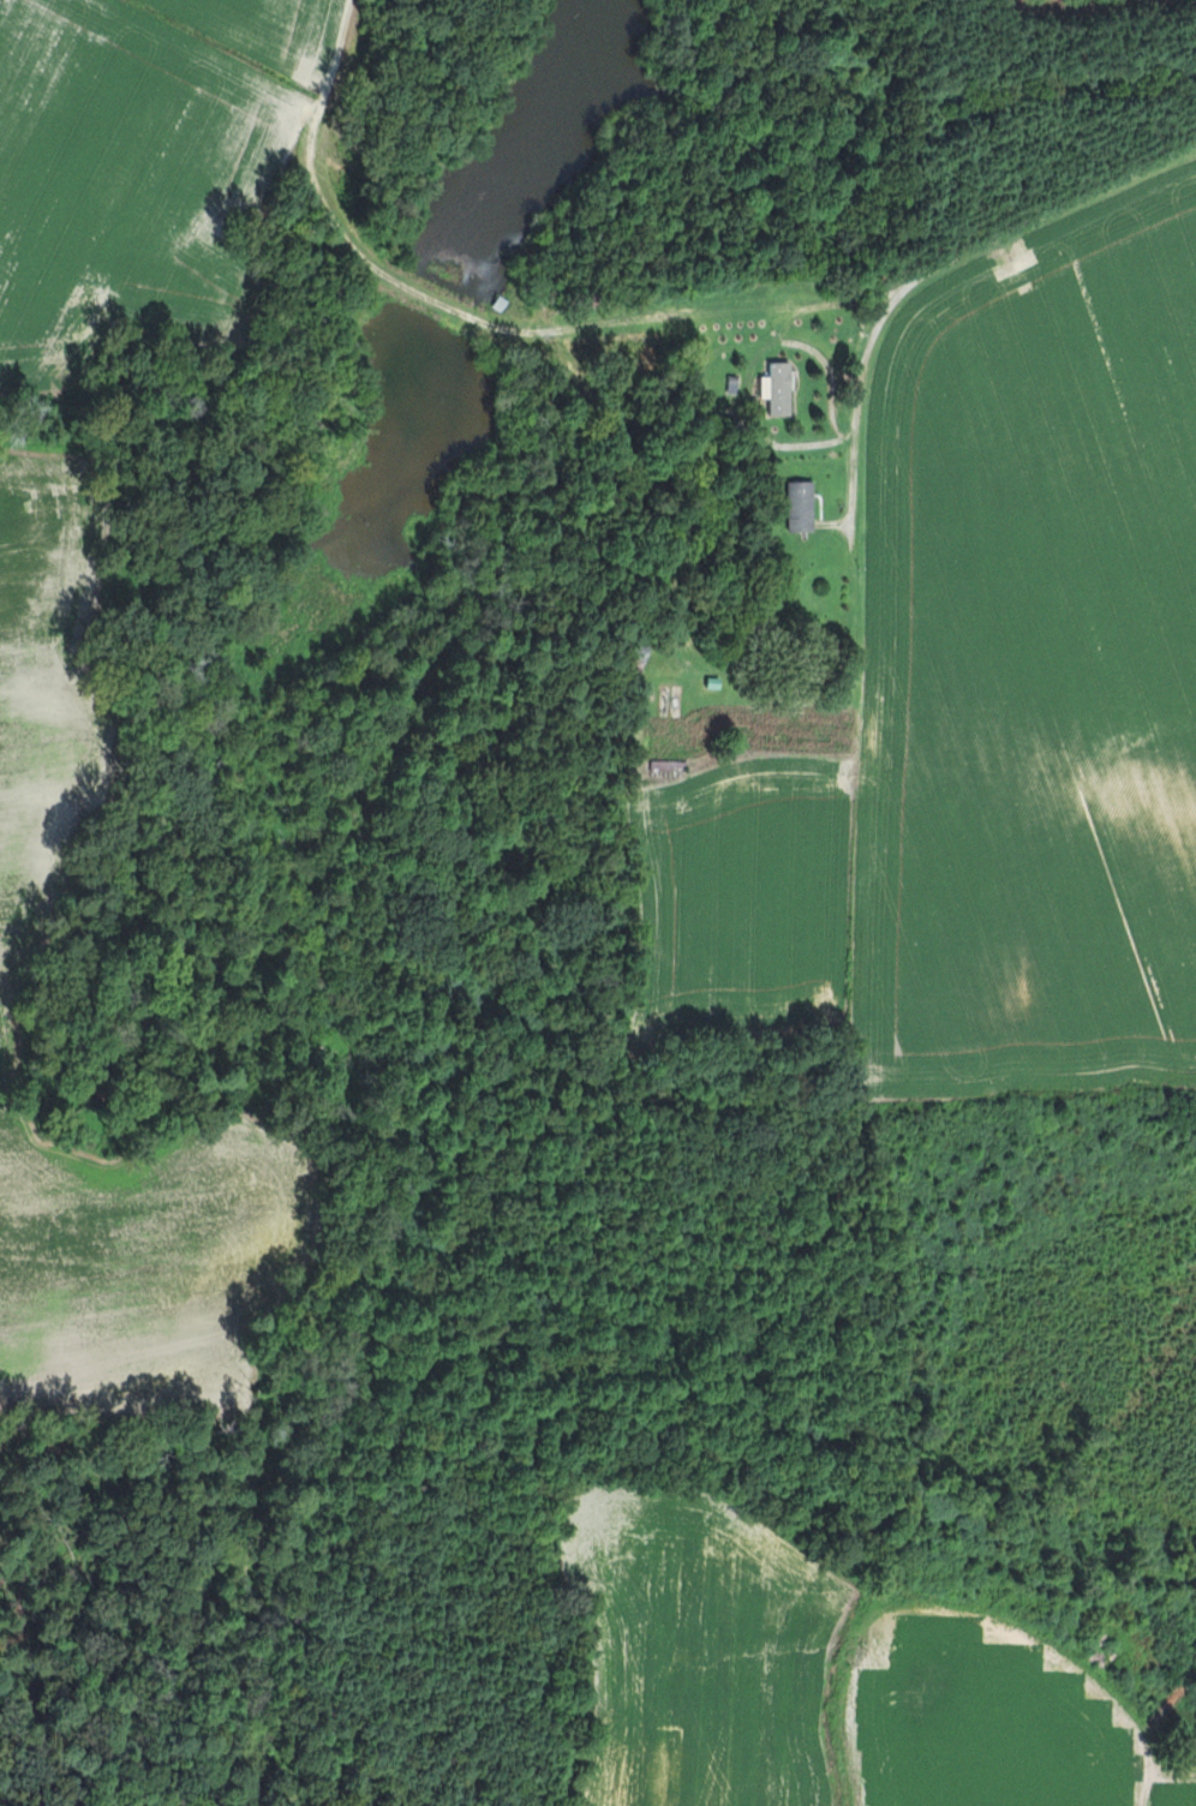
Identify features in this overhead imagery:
road: (904, 291)
building: (782, 389)
building: (802, 507)

